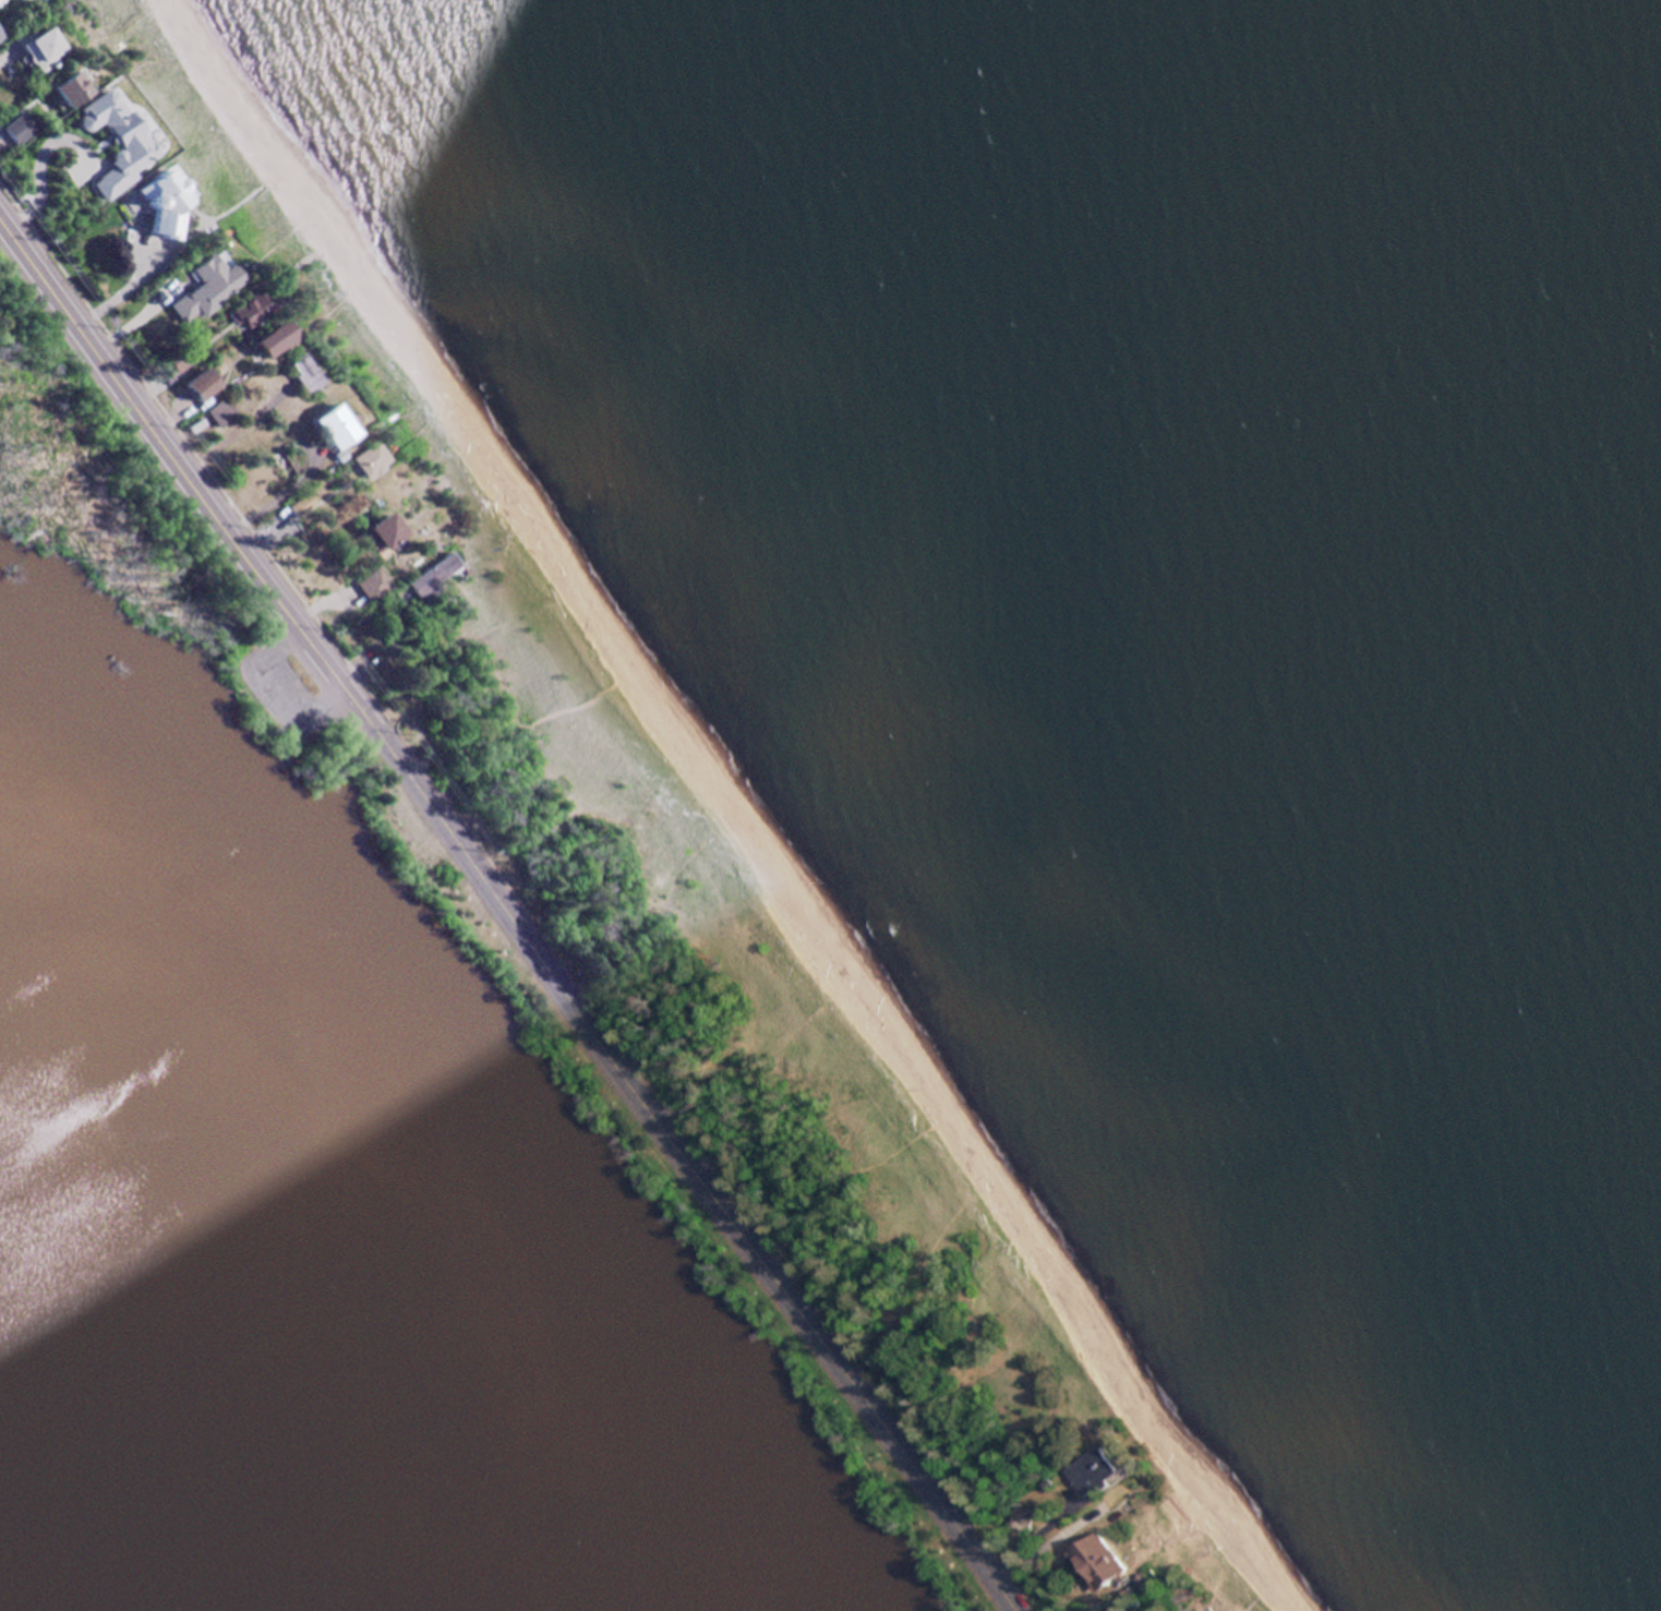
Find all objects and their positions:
building: (1, 35)
building: (43, 45)
building: (74, 88)
building: (19, 127)
building: (119, 140)
building: (165, 203)
building: (208, 286)
building: (254, 308)
building: (278, 340)
building: (308, 373)
building: (206, 384)
building: (221, 411)
building: (338, 428)
road: (169, 452)
building: (373, 460)
building: (386, 534)
building: (432, 575)
building: (374, 585)
road: (399, 663)
road: (346, 693)
road: (682, 1157)
building: (1095, 1471)
building: (1120, 1503)
building: (1098, 1566)

